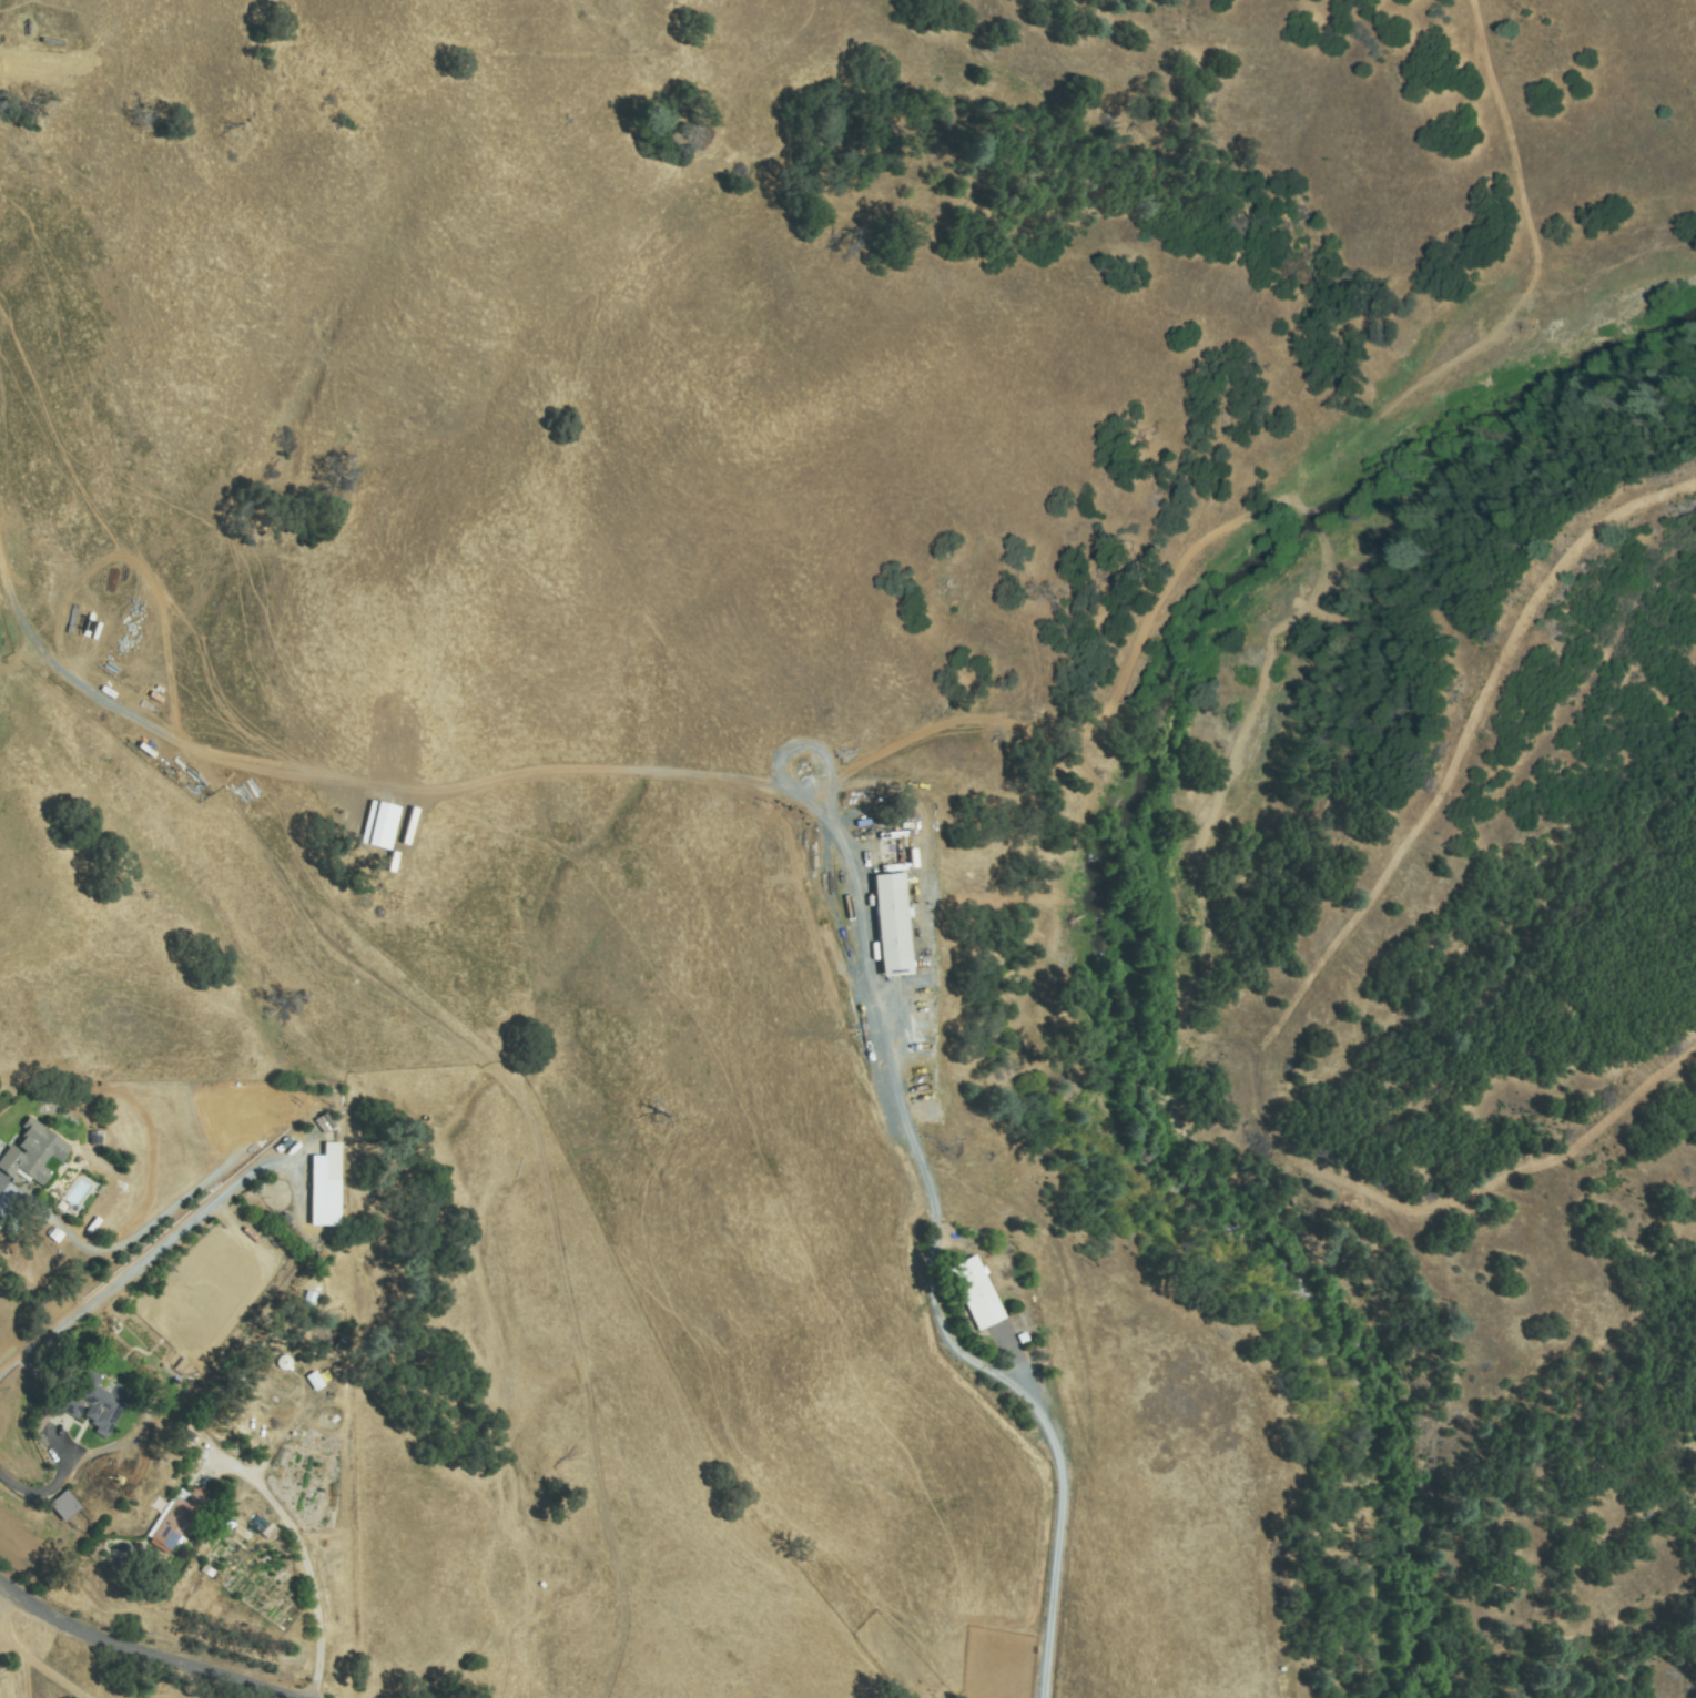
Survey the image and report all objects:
building: (380, 825)
building: (402, 826)
building: (892, 932)
building: (324, 1123)
building: (33, 1155)
building: (326, 1187)
building: (976, 1293)
building: (94, 1403)
building: (64, 1507)
building: (180, 1519)
road: (1058, 1528)
road: (136, 1651)

